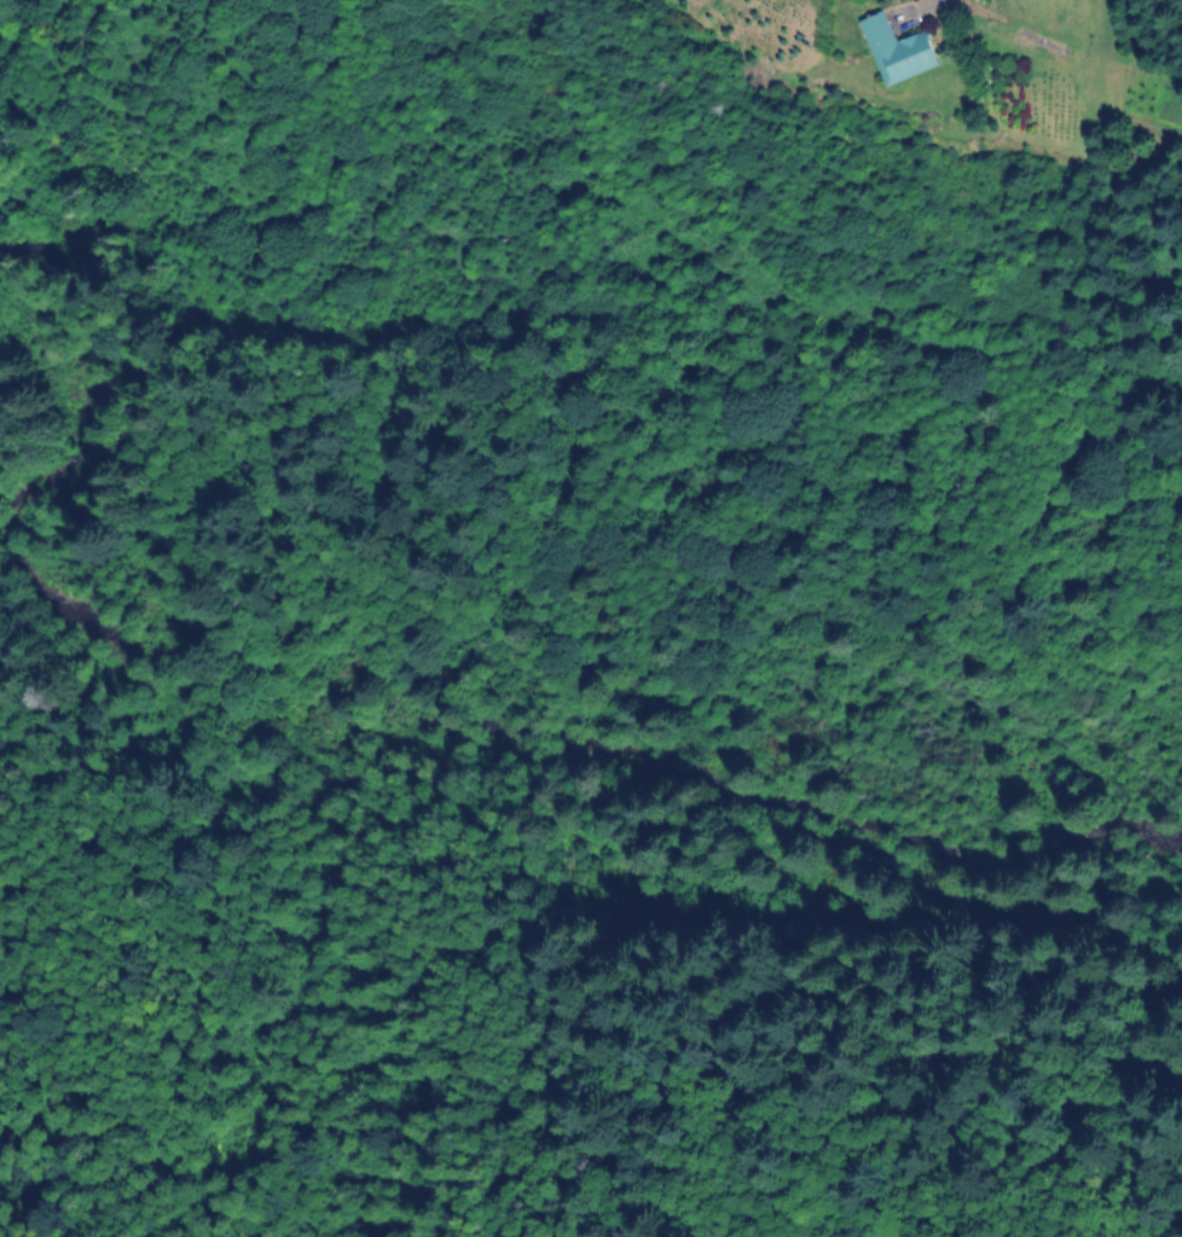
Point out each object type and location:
road: (1178, 5)
building: (903, 50)

